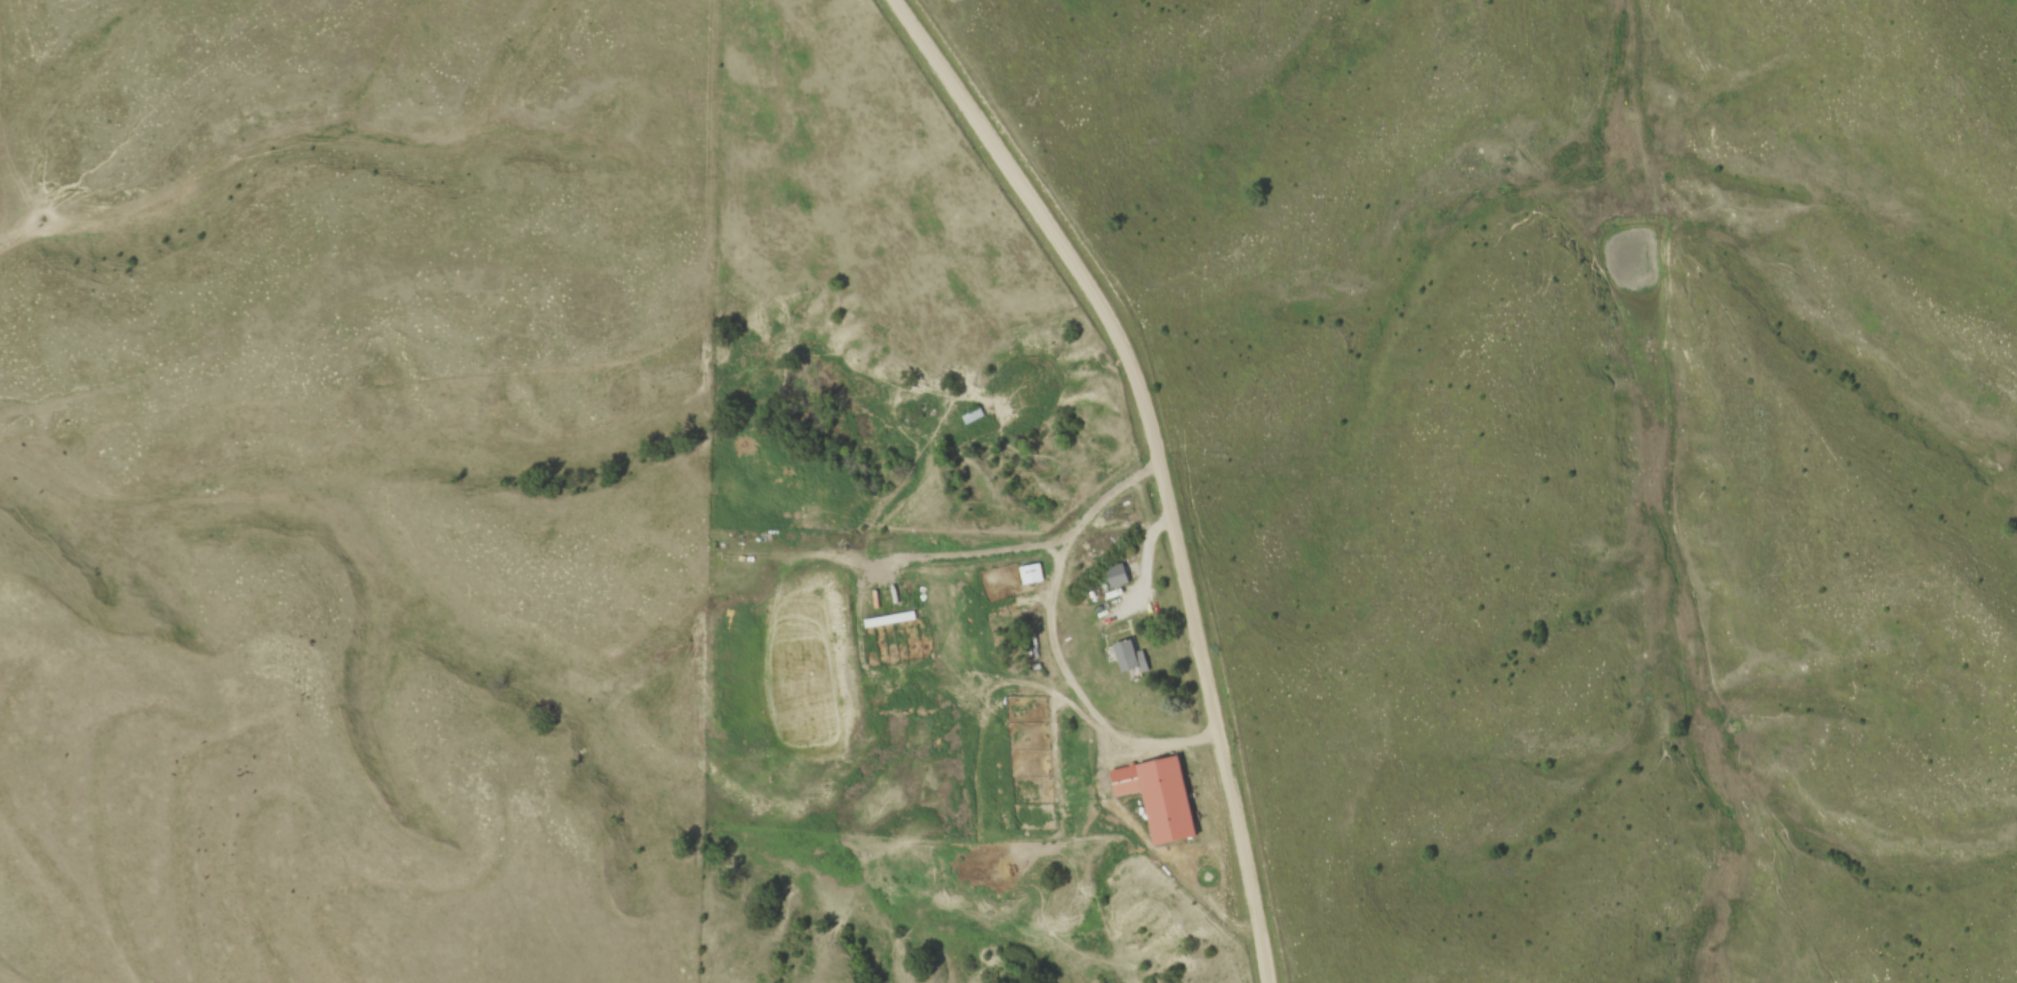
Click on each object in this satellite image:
building: (970, 417)
road: (1158, 460)
building: (1031, 574)
building: (1114, 575)
road: (1052, 634)
building: (1127, 656)
building: (1176, 803)

